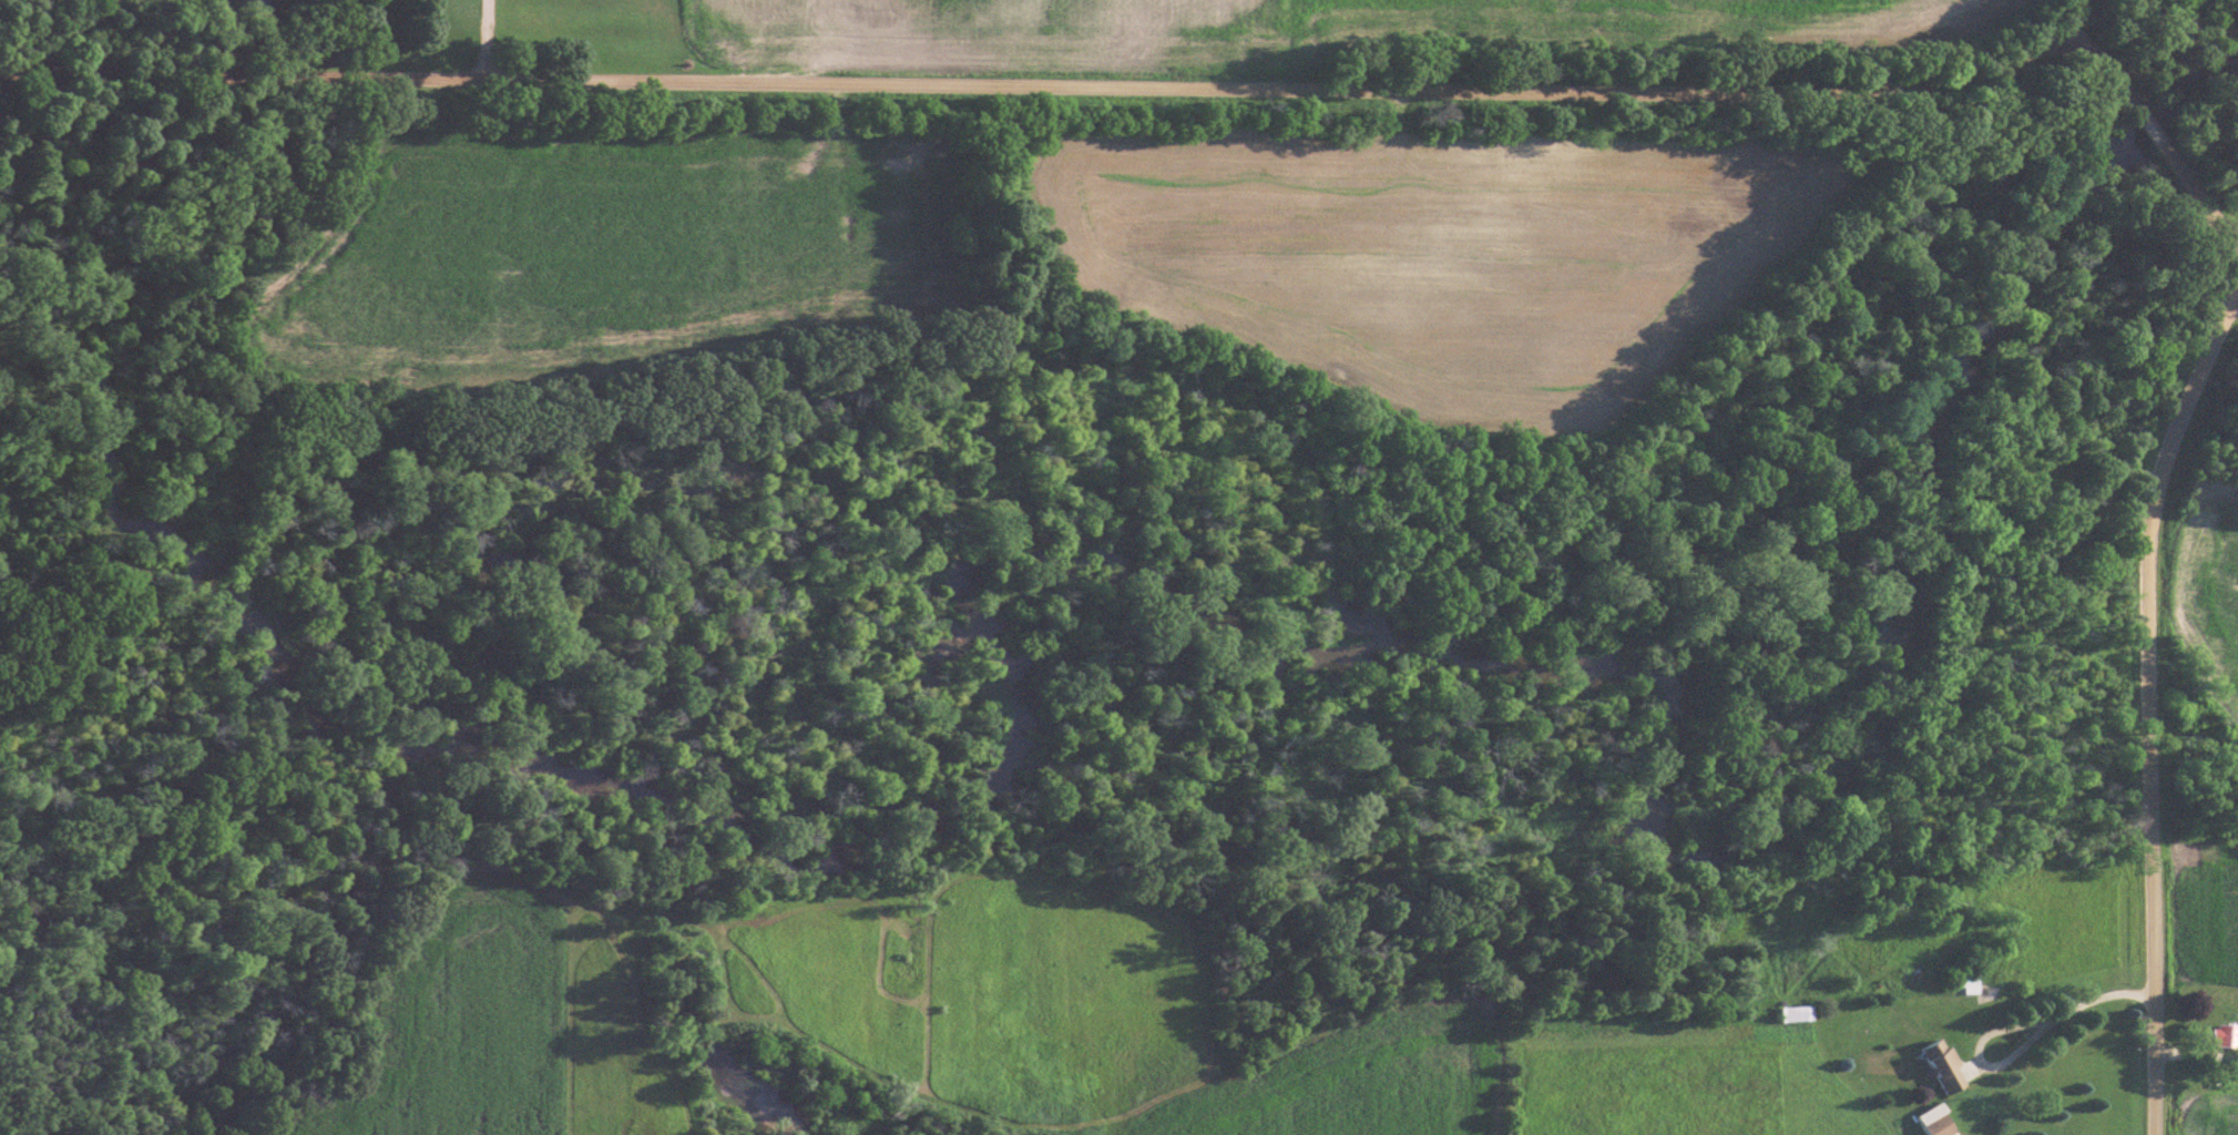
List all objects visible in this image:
road: (109, 37)
road: (488, 39)
road: (1176, 86)
river: (1240, 541)
road: (2149, 697)
building: (1963, 981)
building: (1788, 1011)
road: (2023, 1033)
building: (2218, 1034)
building: (1934, 1064)
building: (1929, 1121)

